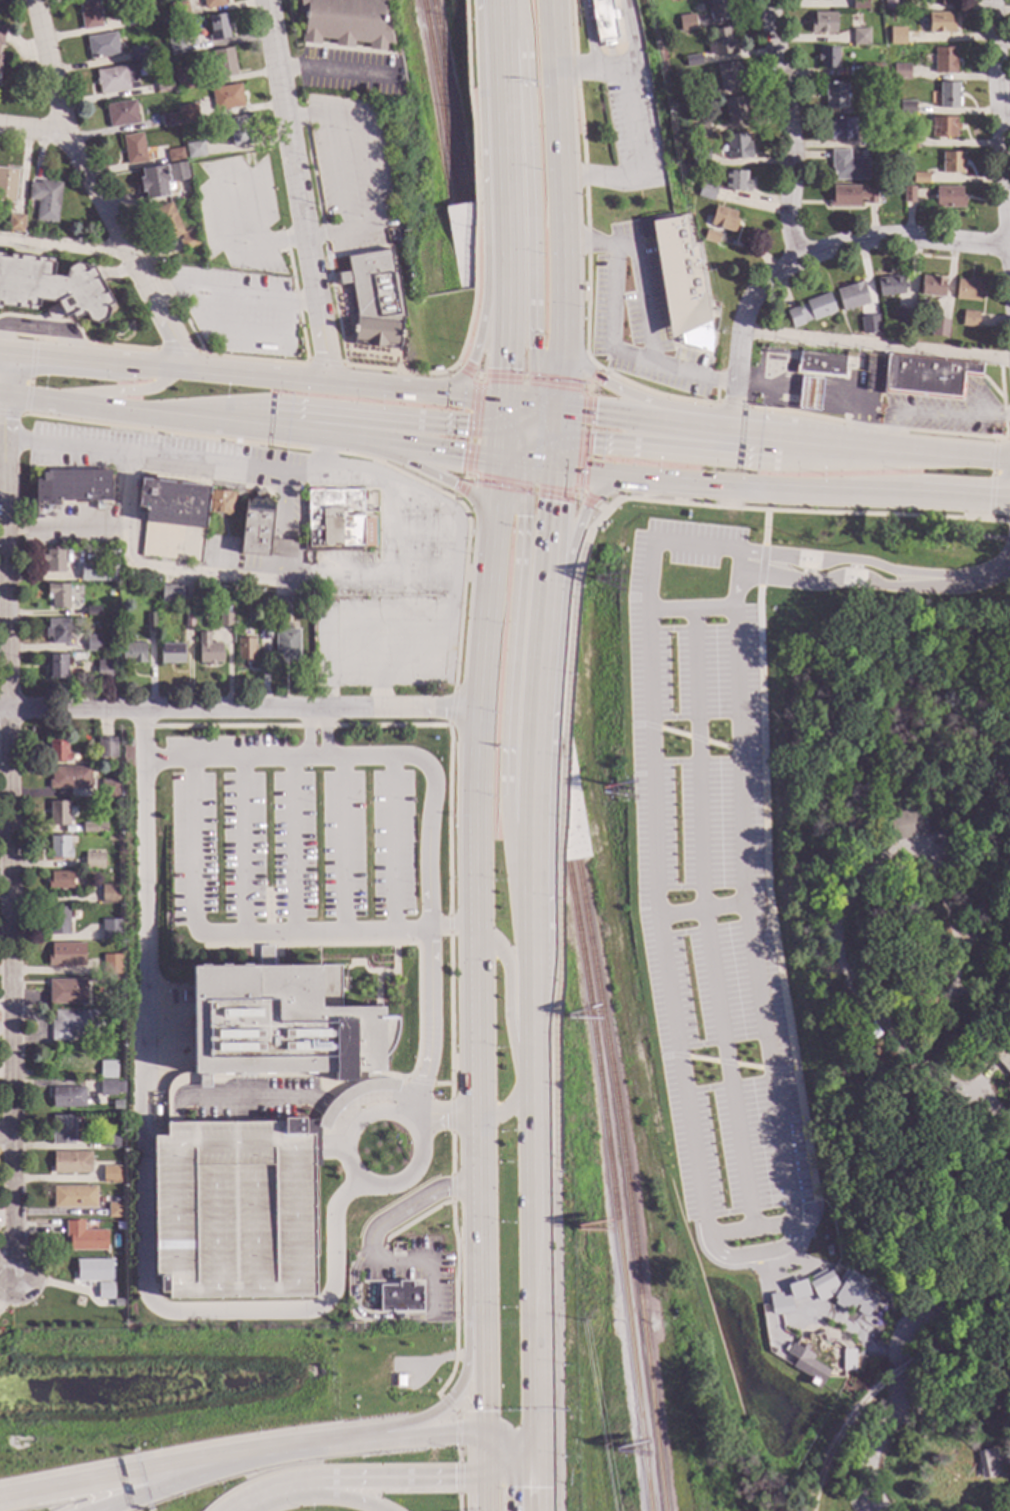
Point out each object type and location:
building: (939, 2)
building: (212, 4)
building: (859, 5)
building: (892, 5)
building: (719, 9)
building: (178, 10)
building: (88, 15)
building: (143, 16)
building: (605, 21)
building: (345, 23)
building: (687, 23)
building: (823, 23)
building: (940, 23)
building: (166, 25)
building: (218, 28)
building: (1, 35)
road: (590, 35)
building: (897, 35)
building: (860, 37)
building: (721, 42)
road: (633, 45)
building: (101, 47)
building: (174, 47)
building: (137, 56)
building: (827, 58)
building: (944, 60)
building: (693, 61)
building: (223, 64)
road: (332, 71)
building: (873, 71)
building: (901, 72)
building: (729, 75)
building: (116, 80)
building: (182, 80)
building: (163, 87)
building: (702, 91)
building: (834, 95)
building: (948, 95)
building: (226, 98)
railway: (449, 102)
railway: (439, 103)
building: (907, 108)
building: (735, 109)
building: (120, 114)
road: (503, 114)
road: (1001, 117)
building: (187, 118)
road: (322, 119)
building: (168, 121)
road: (34, 126)
building: (943, 127)
road: (790, 129)
building: (840, 129)
road: (630, 130)
building: (686, 130)
building: (701, 130)
building: (239, 132)
building: (882, 140)
building: (907, 140)
building: (737, 147)
building: (136, 151)
building: (194, 151)
building: (174, 155)
building: (700, 158)
building: (952, 163)
road: (558, 166)
building: (847, 167)
parking lot: (352, 172)
road: (370, 172)
building: (176, 173)
building: (894, 177)
building: (920, 177)
building: (736, 181)
building: (153, 183)
building: (7, 185)
road: (96, 187)
road: (296, 191)
building: (706, 191)
building: (908, 194)
building: (850, 196)
building: (948, 197)
building: (44, 201)
building: (689, 201)
road: (533, 202)
road: (483, 207)
parking lot: (240, 216)
building: (723, 219)
building: (15, 224)
building: (171, 226)
road: (323, 232)
building: (711, 237)
road: (476, 239)
road: (64, 244)
road: (829, 248)
road: (587, 258)
building: (681, 283)
building: (890, 286)
building: (933, 287)
building: (51, 289)
building: (967, 290)
road: (642, 296)
building: (852, 296)
road: (233, 297)
building: (375, 301)
parking lot: (237, 309)
building: (810, 310)
road: (506, 315)
building: (905, 318)
building: (969, 319)
building: (872, 324)
building: (939, 328)
road: (612, 332)
road: (245, 336)
road: (78, 342)
road: (876, 344)
traffic signals: (534, 348)
road: (179, 352)
road: (54, 355)
road: (253, 359)
road: (325, 362)
building: (820, 363)
road: (457, 364)
traffic signals: (471, 364)
road: (466, 370)
traffic signals: (506, 370)
road: (560, 371)
road: (477, 375)
road: (30, 376)
road: (596, 376)
building: (925, 376)
road: (501, 377)
road: (477, 379)
road: (522, 379)
road: (307, 380)
traffic signals: (603, 382)
road: (552, 383)
road: (584, 387)
road: (588, 388)
road: (1, 392)
road: (107, 392)
road: (14, 394)
building: (809, 394)
road: (634, 398)
road: (733, 399)
road: (520, 404)
road: (731, 404)
road: (93, 407)
road: (547, 408)
road: (473, 410)
road: (585, 410)
road: (331, 412)
road: (516, 412)
road: (11, 413)
road: (537, 414)
traffic signals: (593, 415)
road: (504, 416)
road: (549, 416)
road: (645, 421)
road: (530, 424)
road: (557, 424)
road: (732, 424)
traffic signals: (464, 426)
road: (877, 426)
road: (256, 428)
road: (513, 428)
road: (584, 428)
road: (828, 429)
road: (542, 431)
road: (759, 435)
road: (524, 436)
road: (550, 440)
road: (1009, 440)
road: (470, 442)
road: (535, 443)
traffic signals: (591, 443)
road: (503, 445)
road: (731, 445)
road: (854, 445)
road: (642, 448)
road: (428, 449)
road: (324, 453)
road: (514, 453)
road: (555, 453)
road: (339, 454)
traffic signals: (461, 454)
road: (549, 454)
road: (526, 455)
road: (966, 456)
road: (825, 458)
road: (467, 459)
road: (581, 460)
road: (514, 462)
road: (540, 466)
road: (311, 470)
road: (584, 472)
road: (431, 474)
road: (464, 478)
road: (992, 479)
road: (469, 480)
traffic signals: (453, 485)
road: (502, 485)
building: (71, 487)
road: (599, 487)
road: (765, 488)
road: (458, 489)
road: (532, 490)
road: (654, 491)
road: (553, 494)
road: (577, 494)
road: (576, 497)
road: (963, 497)
road: (455, 498)
road: (617, 500)
road: (588, 502)
building: (222, 503)
traffic signals: (551, 503)
traffic signals: (585, 510)
road: (821, 512)
traffic signals: (522, 517)
building: (173, 520)
building: (336, 521)
road: (66, 527)
building: (262, 529)
road: (547, 546)
building: (54, 561)
road: (844, 561)
road: (157, 570)
building: (81, 575)
road: (981, 575)
road: (842, 579)
building: (171, 593)
building: (58, 596)
building: (281, 605)
road: (689, 610)
building: (93, 611)
building: (188, 619)
building: (226, 619)
building: (266, 619)
building: (150, 620)
building: (280, 625)
building: (57, 631)
building: (92, 643)
building: (286, 645)
building: (208, 650)
building: (246, 650)
building: (133, 653)
building: (171, 653)
building: (56, 666)
building: (105, 671)
road: (508, 705)
road: (450, 707)
road: (238, 711)
road: (306, 735)
road: (327, 736)
building: (106, 748)
building: (58, 752)
road: (551, 763)
road: (433, 773)
building: (69, 777)
road: (530, 785)
building: (108, 789)
road: (9, 812)
building: (58, 814)
road: (449, 821)
road: (475, 823)
building: (907, 824)
building: (93, 827)
road: (391, 844)
road: (342, 846)
road: (292, 847)
building: (59, 848)
road: (241, 849)
building: (94, 861)
parking lot: (707, 874)
road: (863, 880)
building: (59, 881)
building: (109, 894)
road: (700, 911)
building: (58, 921)
road: (704, 921)
road: (448, 925)
road: (451, 926)
building: (110, 930)
road: (228, 934)
building: (66, 954)
building: (111, 964)
building: (67, 992)
road: (509, 997)
road: (556, 1001)
road: (529, 1011)
road: (450, 1017)
building: (74, 1023)
building: (1003, 1055)
building: (117, 1057)
building: (107, 1069)
building: (880, 1072)
building: (940, 1074)
building: (1009, 1079)
building: (110, 1087)
building: (68, 1096)
road: (975, 1097)
road: (507, 1105)
road: (450, 1116)
road: (444, 1119)
building: (63, 1130)
building: (256, 1132)
road: (348, 1133)
road: (6, 1139)
building: (109, 1142)
road: (451, 1154)
building: (71, 1162)
building: (110, 1172)
railway: (624, 1184)
railway: (610, 1185)
road: (451, 1189)
road: (146, 1192)
building: (73, 1197)
road: (409, 1206)
building: (114, 1207)
road: (706, 1223)
road: (479, 1226)
building: (84, 1237)
road: (755, 1254)
road: (428, 1259)
road: (533, 1267)
building: (93, 1269)
building: (104, 1290)
building: (798, 1290)
building: (843, 1290)
building: (400, 1297)
building: (117, 1300)
road: (454, 1302)
building: (780, 1304)
road: (811, 1311)
road: (365, 1315)
road: (846, 1332)
road: (841, 1340)
railway: (960, 1341)
road: (480, 1348)
building: (847, 1360)
building: (807, 1365)
road: (899, 1367)
railway: (898, 1374)
road: (455, 1391)
road: (447, 1407)
road: (953, 1409)
traffic signals: (481, 1432)
road: (409, 1437)
railway: (836, 1442)
road: (508, 1444)
road: (285, 1450)
road: (456, 1454)
road: (481, 1455)
traffic signals: (536, 1456)
building: (988, 1463)
road: (509, 1467)
road: (116, 1478)
road: (384, 1478)
traffic signals: (482, 1478)
road: (535, 1483)
road: (167, 1487)
road: (481, 1494)
road: (261, 1495)
road: (336, 1495)
road: (458, 1502)

